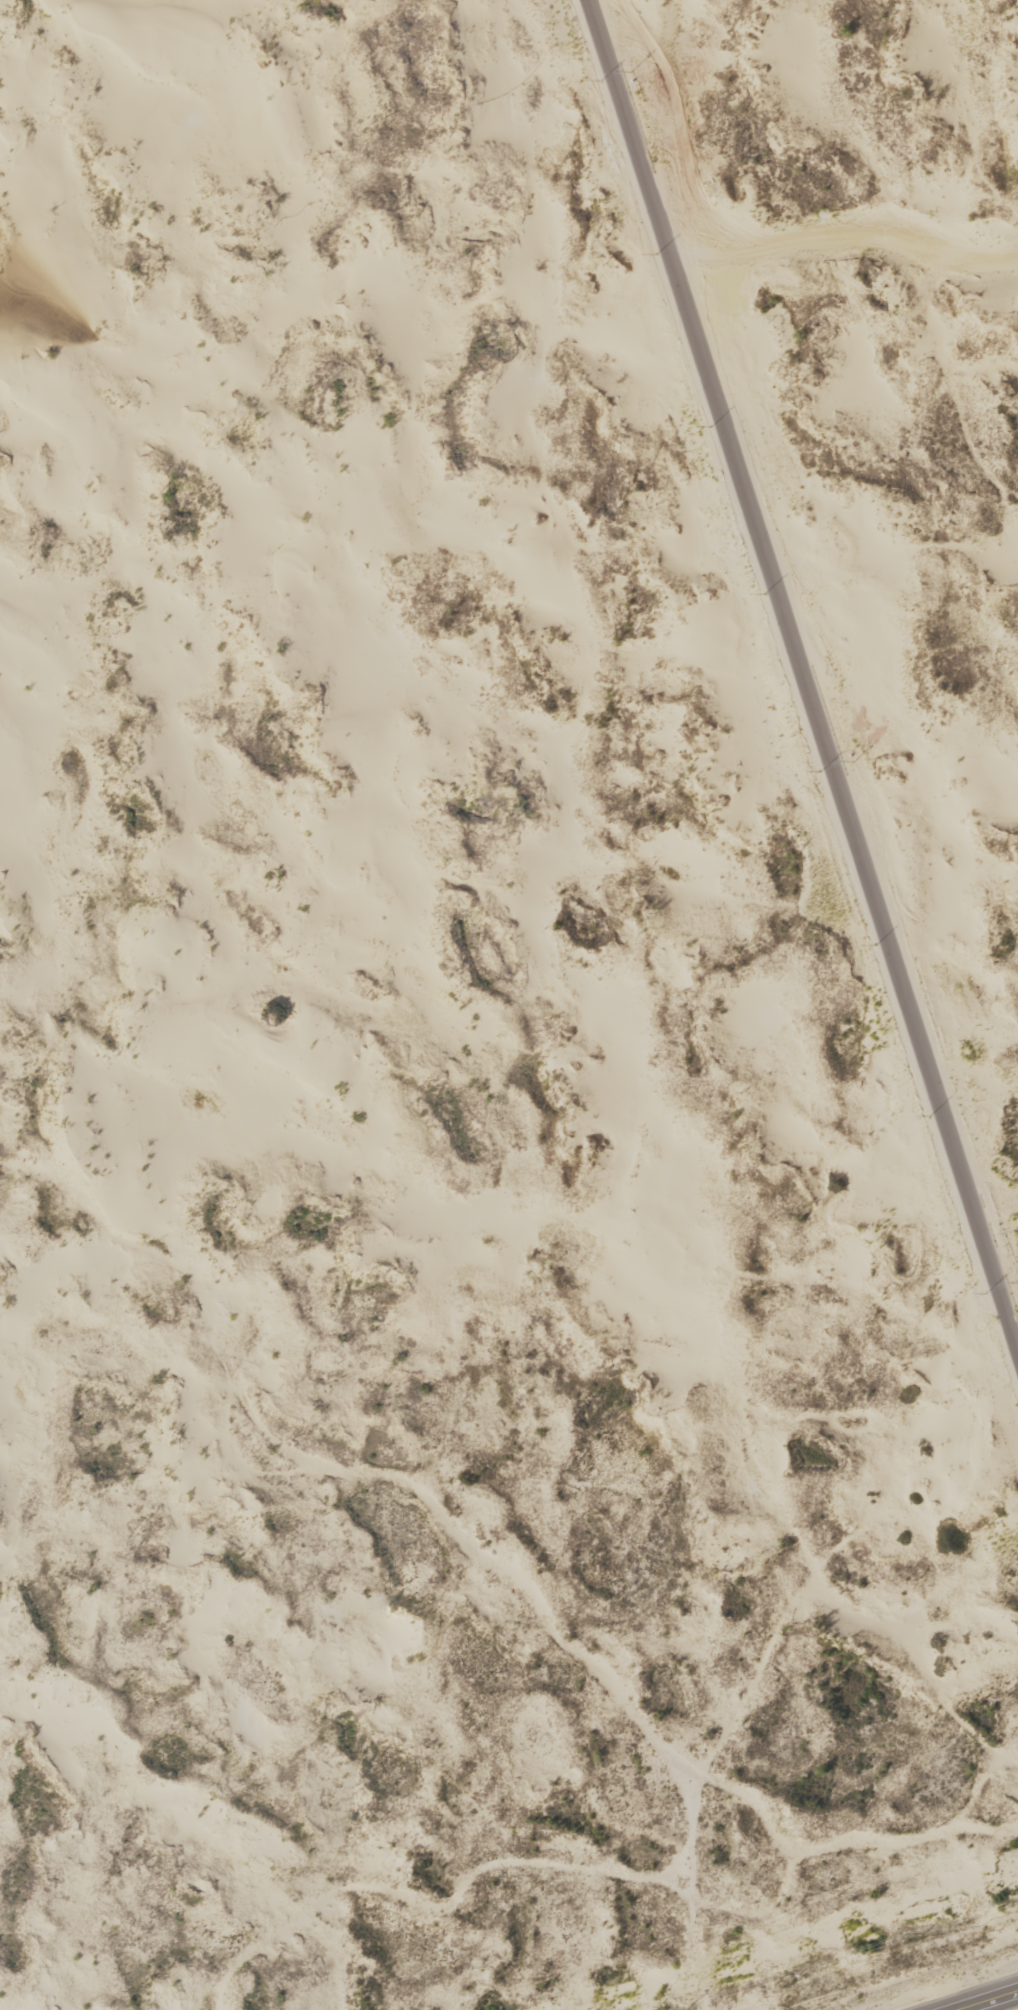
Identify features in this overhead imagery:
road: (986, 1999)

